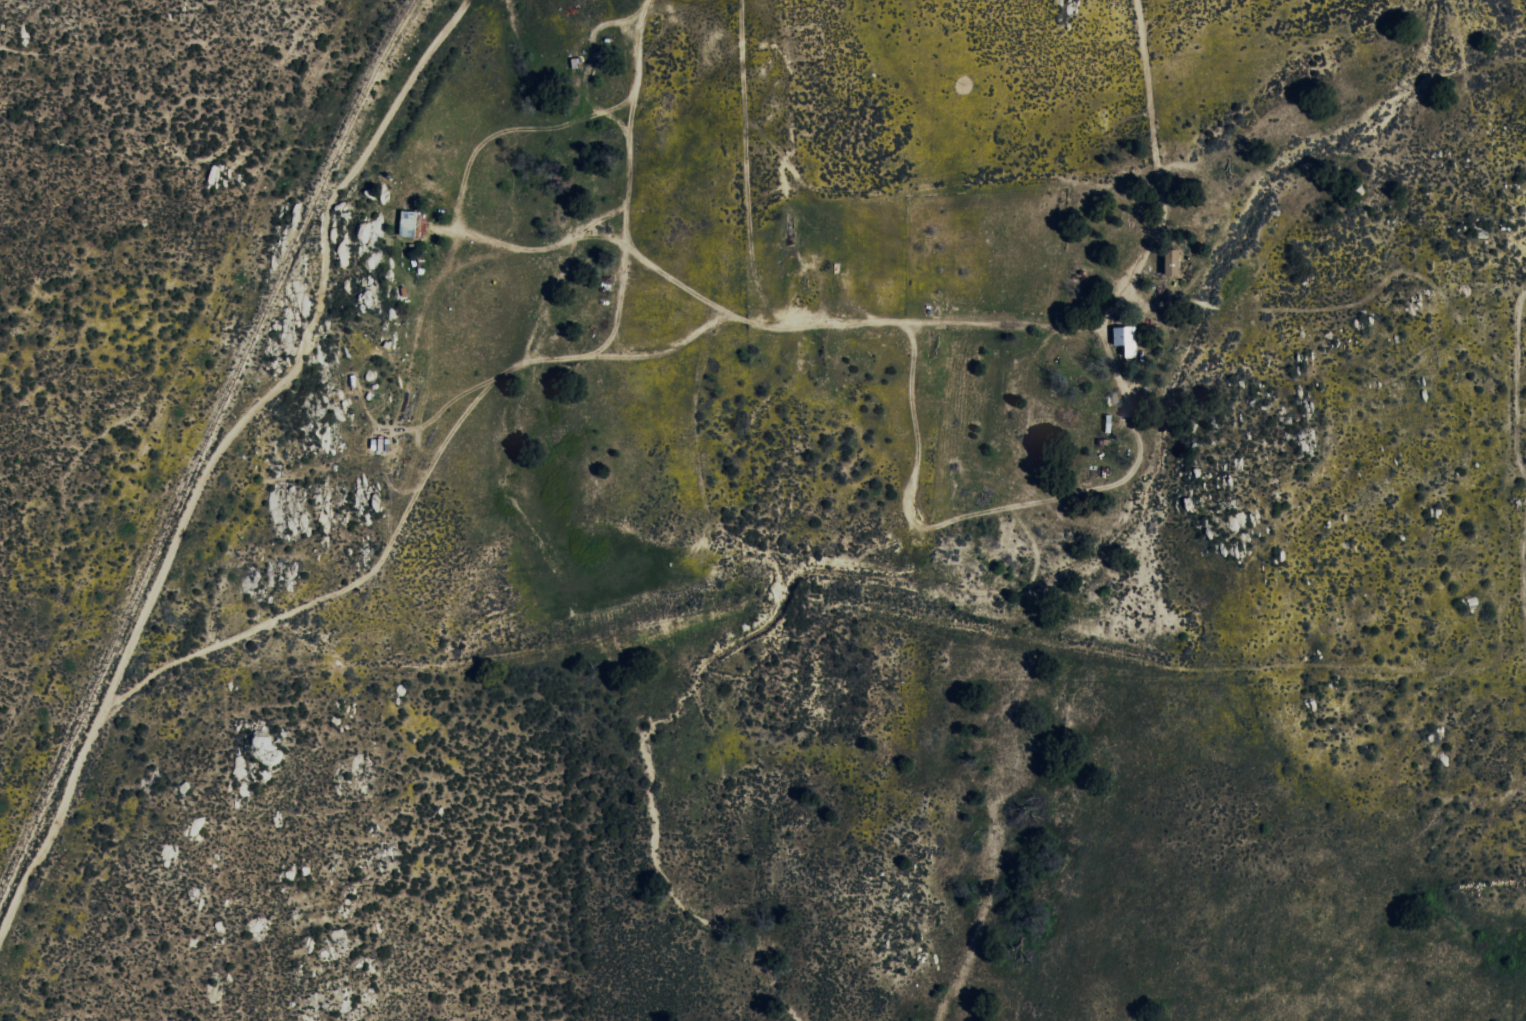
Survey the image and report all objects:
road: (1148, 84)
building: (408, 224)
road: (642, 258)
building: (1173, 262)
road: (798, 321)
building: (1126, 340)
railway: (206, 451)
road: (1456, 976)

